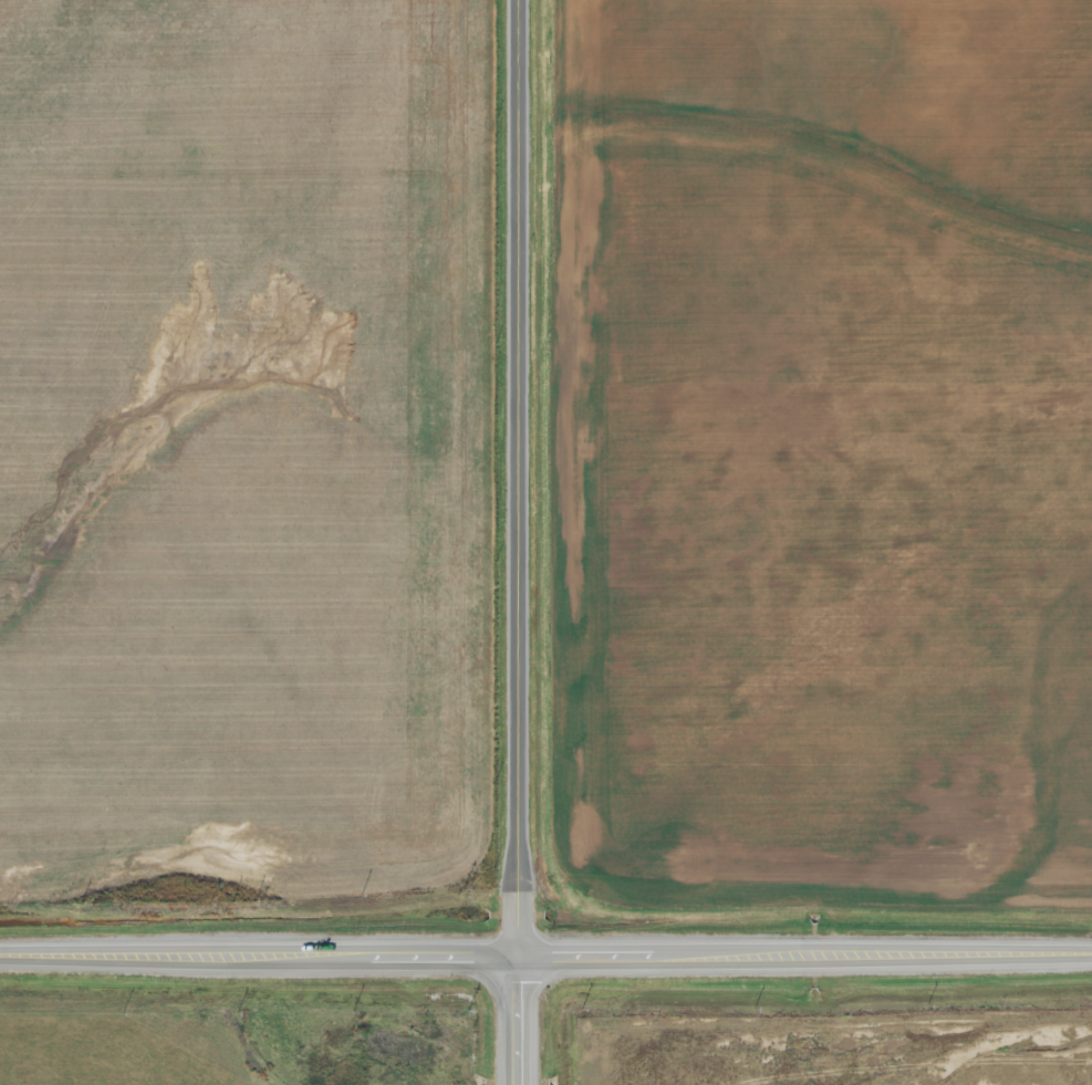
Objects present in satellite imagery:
road: (519, 478)
road: (803, 954)
road: (258, 956)
road: (516, 1020)

